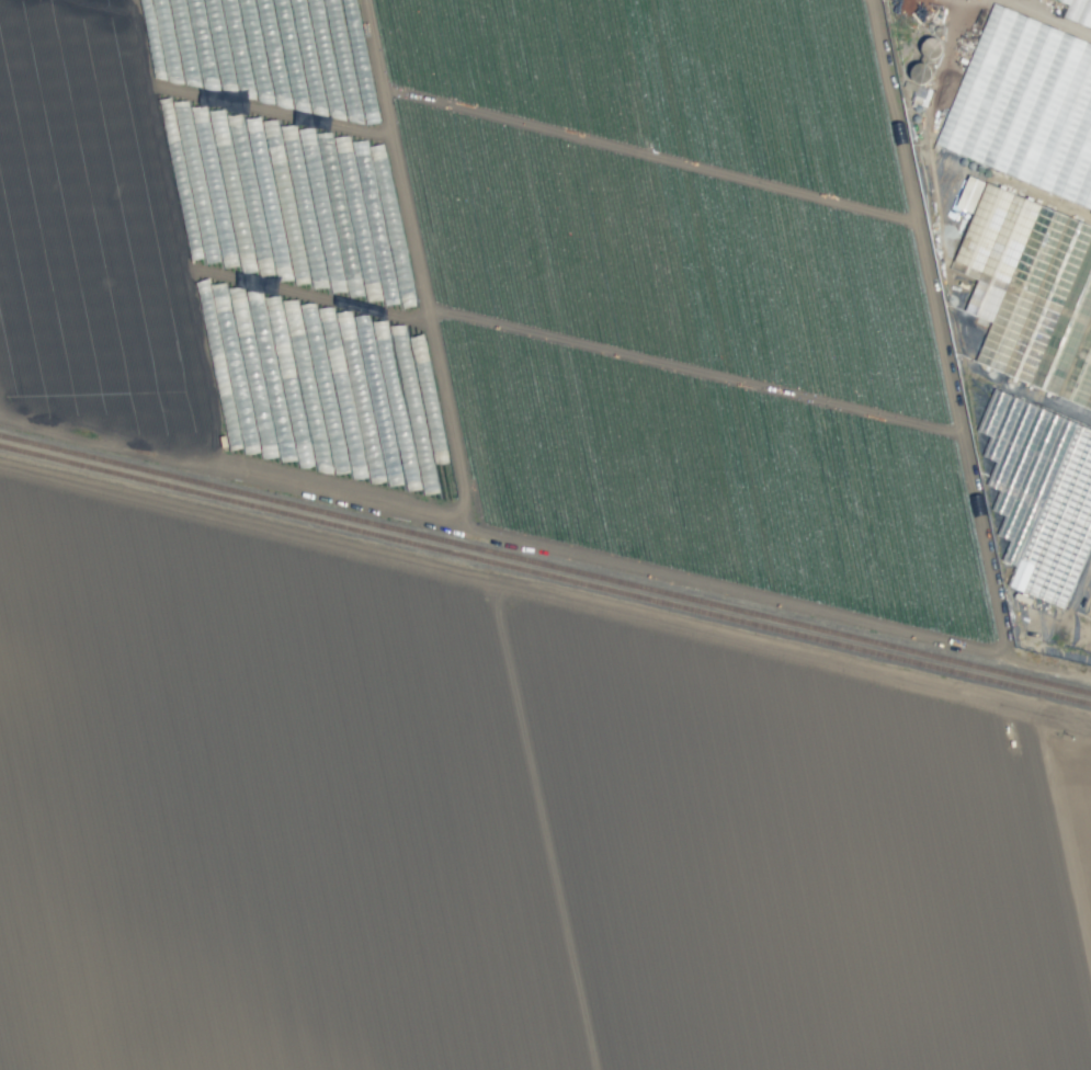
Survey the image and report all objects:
building: (1078, 11)
building: (999, 75)
road: (196, 93)
building: (921, 95)
building: (1090, 198)
road: (417, 262)
road: (215, 274)
crop: (588, 282)
road: (545, 544)
railway: (545, 565)
railway: (545, 574)
crop: (492, 830)

